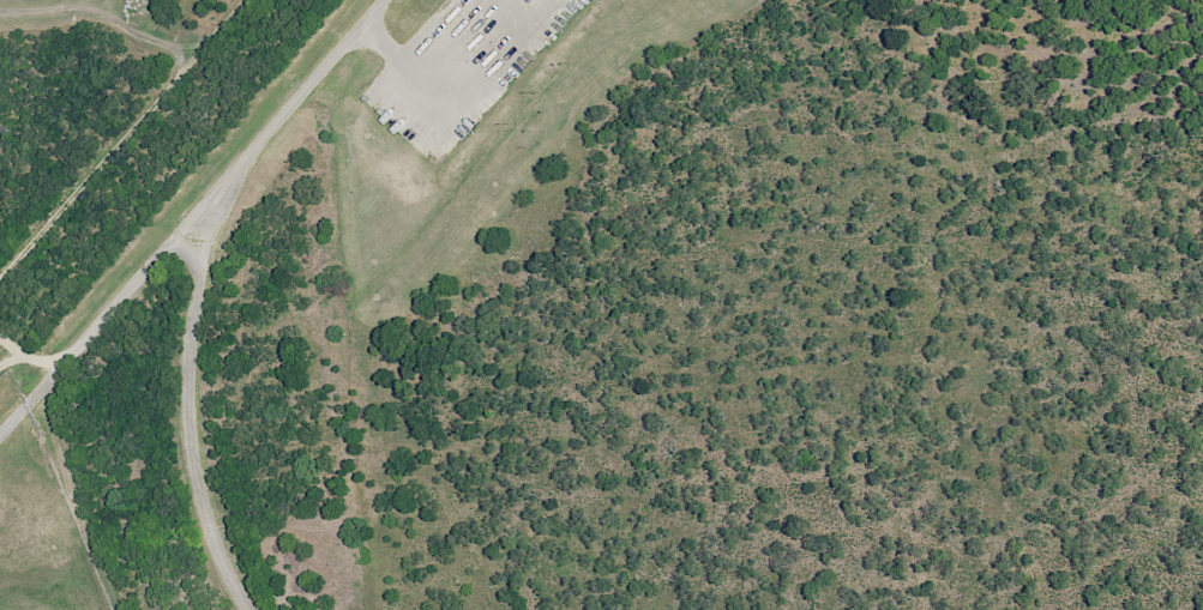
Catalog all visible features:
road: (193, 219)
road: (188, 405)

